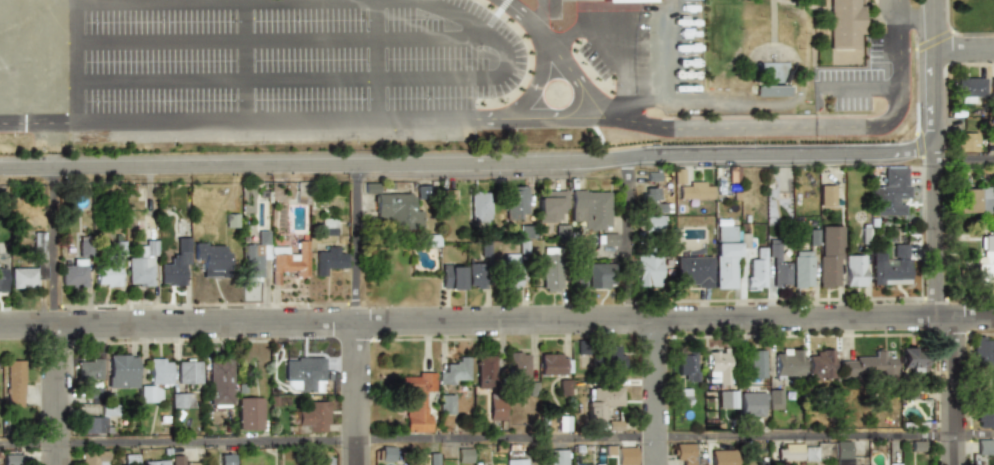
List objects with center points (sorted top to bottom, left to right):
building: (626, 0)
road: (282, 2)
road: (900, 8)
road: (543, 16)
road: (916, 16)
building: (845, 23)
road: (932, 25)
road: (533, 27)
road: (279, 40)
road: (618, 47)
road: (962, 49)
road: (664, 50)
road: (375, 59)
road: (73, 61)
road: (244, 61)
road: (559, 62)
building: (780, 75)
road: (312, 80)
road: (932, 86)
building: (991, 87)
road: (861, 88)
building: (969, 89)
building: (772, 91)
road: (738, 101)
road: (538, 117)
road: (274, 120)
road: (623, 122)
road: (37, 124)
road: (822, 127)
road: (932, 133)
building: (966, 142)
road: (932, 152)
road: (55, 153)
road: (778, 155)
road: (963, 160)
road: (312, 165)
building: (694, 191)
building: (889, 193)
building: (825, 196)
building: (975, 200)
building: (650, 201)
building: (515, 203)
building: (478, 206)
building: (549, 206)
building: (590, 209)
building: (393, 211)
building: (651, 223)
building: (325, 227)
building: (724, 233)
road: (627, 237)
building: (812, 238)
building: (608, 240)
road: (356, 243)
building: (39, 246)
road: (55, 246)
building: (82, 248)
building: (254, 256)
building: (828, 256)
building: (211, 259)
building: (142, 260)
building: (327, 260)
building: (985, 260)
building: (287, 262)
building: (175, 264)
building: (724, 264)
building: (777, 266)
building: (891, 267)
building: (109, 268)
building: (551, 269)
building: (801, 269)
building: (647, 270)
building: (756, 270)
building: (510, 271)
building: (693, 271)
building: (853, 271)
building: (475, 275)
building: (598, 276)
building: (450, 277)
building: (23, 278)
building: (2, 279)
building: (580, 279)
road: (945, 313)
road: (496, 320)
building: (983, 350)
building: (612, 358)
building: (913, 360)
building: (788, 362)
building: (757, 363)
building: (820, 364)
building: (518, 365)
building: (554, 365)
building: (686, 365)
building: (869, 365)
building: (718, 367)
building: (89, 370)
building: (122, 372)
building: (159, 372)
building: (188, 372)
building: (455, 372)
building: (485, 372)
building: (305, 373)
building: (992, 376)
building: (219, 380)
building: (14, 383)
road: (657, 391)
road: (357, 393)
road: (57, 394)
building: (150, 394)
building: (684, 395)
building: (728, 399)
building: (775, 399)
building: (182, 400)
building: (417, 402)
building: (601, 402)
building: (447, 404)
building: (751, 404)
building: (496, 407)
building: (986, 410)
building: (250, 414)
building: (315, 417)
building: (97, 420)
building: (562, 424)
road: (496, 439)
building: (985, 446)
building: (684, 453)
building: (789, 453)
building: (843, 453)
building: (386, 454)
building: (463, 455)
building: (625, 456)
building: (94, 457)
building: (556, 457)
building: (723, 457)
building: (11, 459)
building: (227, 459)
building: (177, 460)
building: (155, 462)
building: (515, 462)

